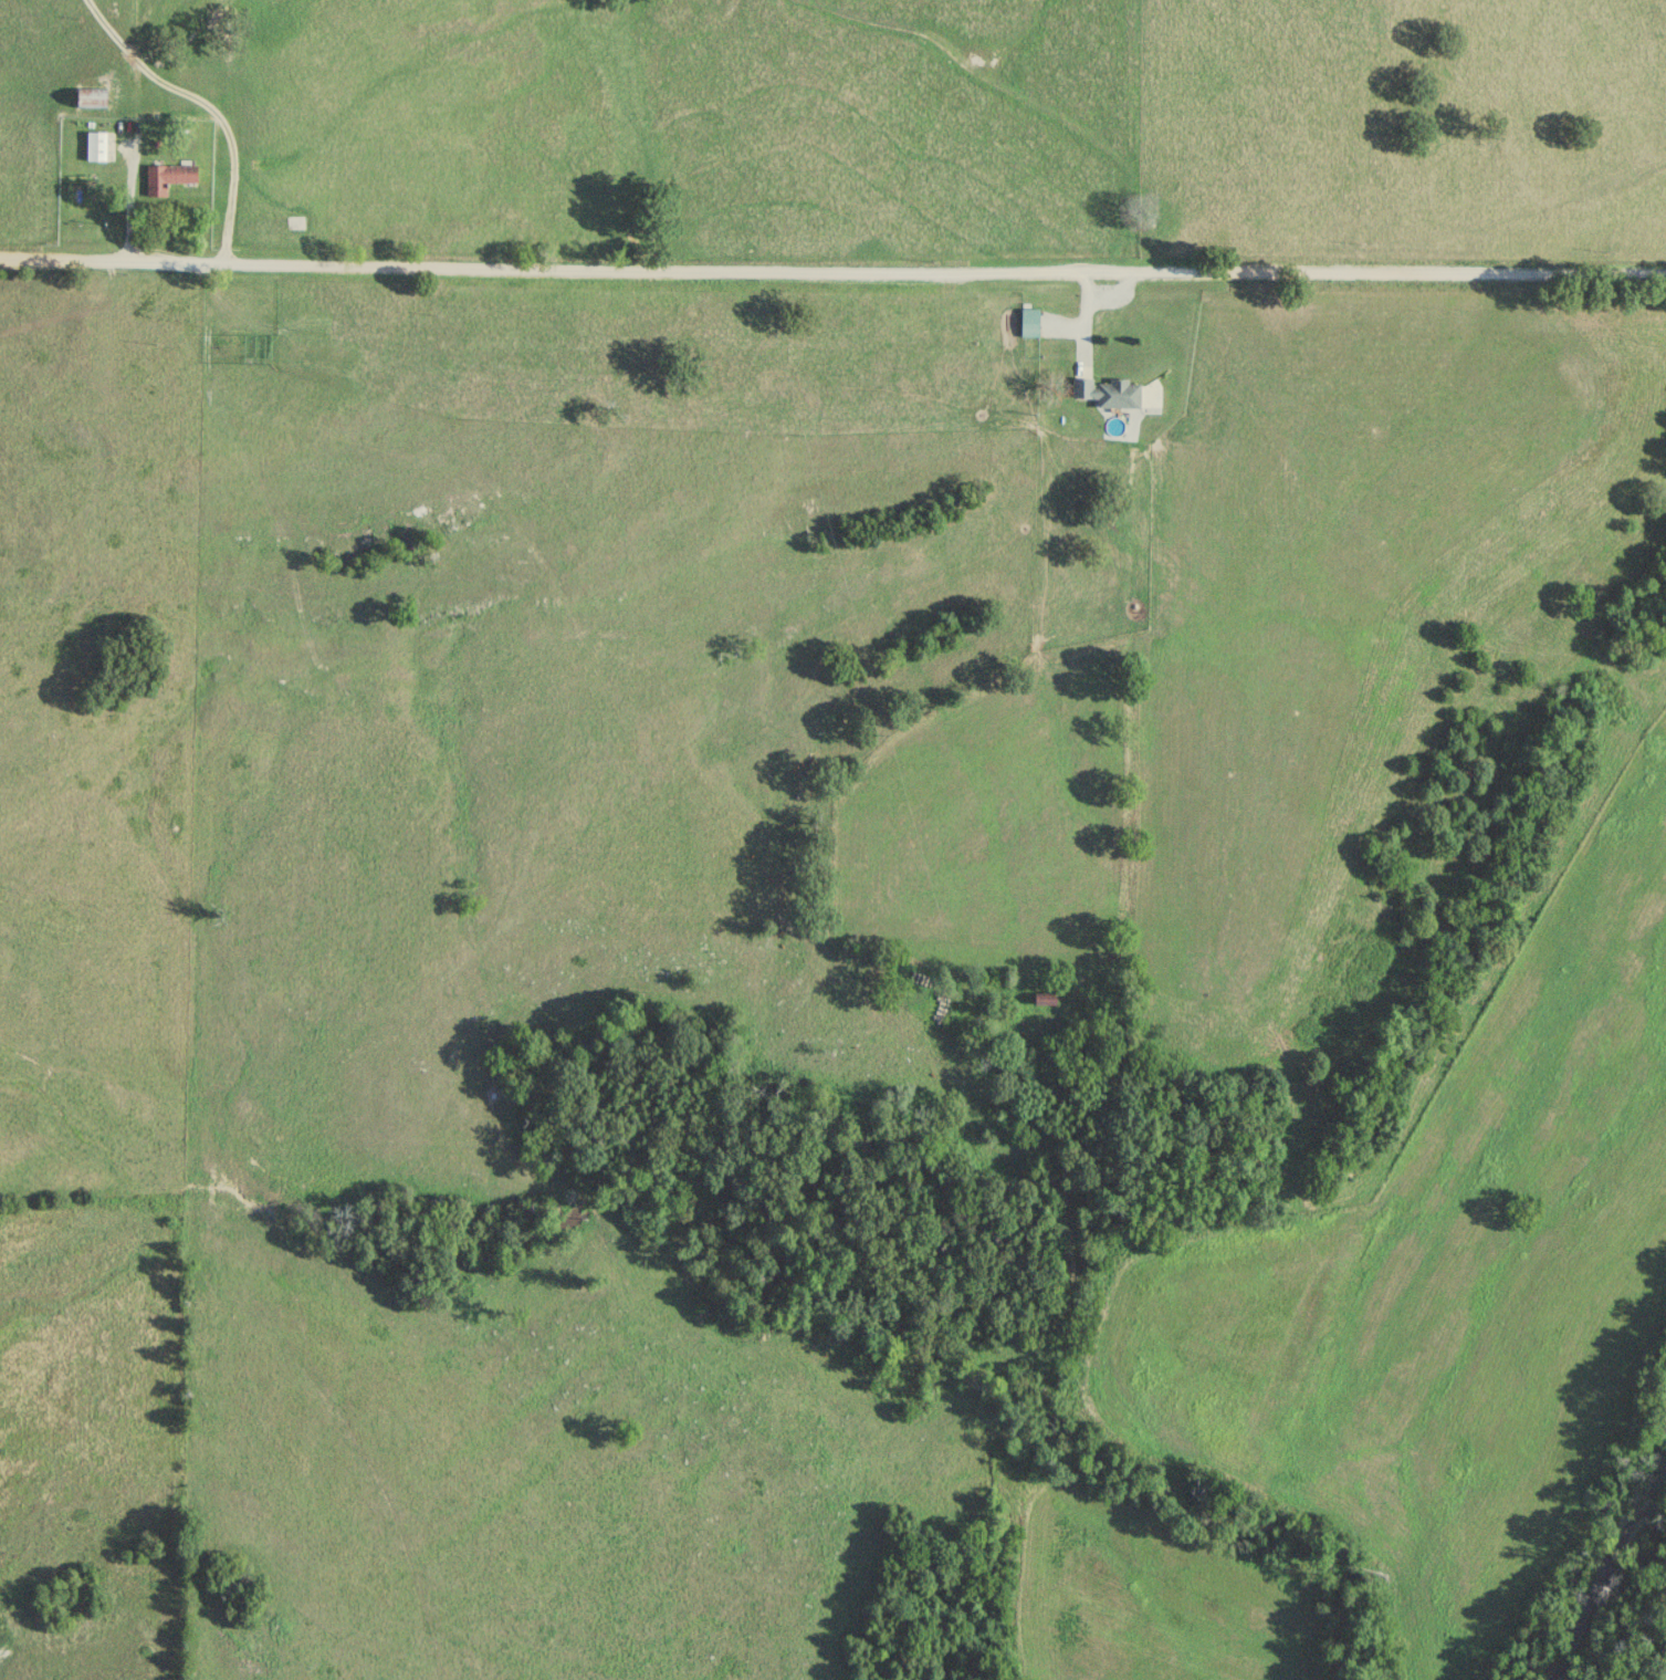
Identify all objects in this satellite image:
building: (95, 98)
building: (98, 147)
building: (169, 178)
road: (832, 267)
building: (1033, 323)
building: (1111, 394)

